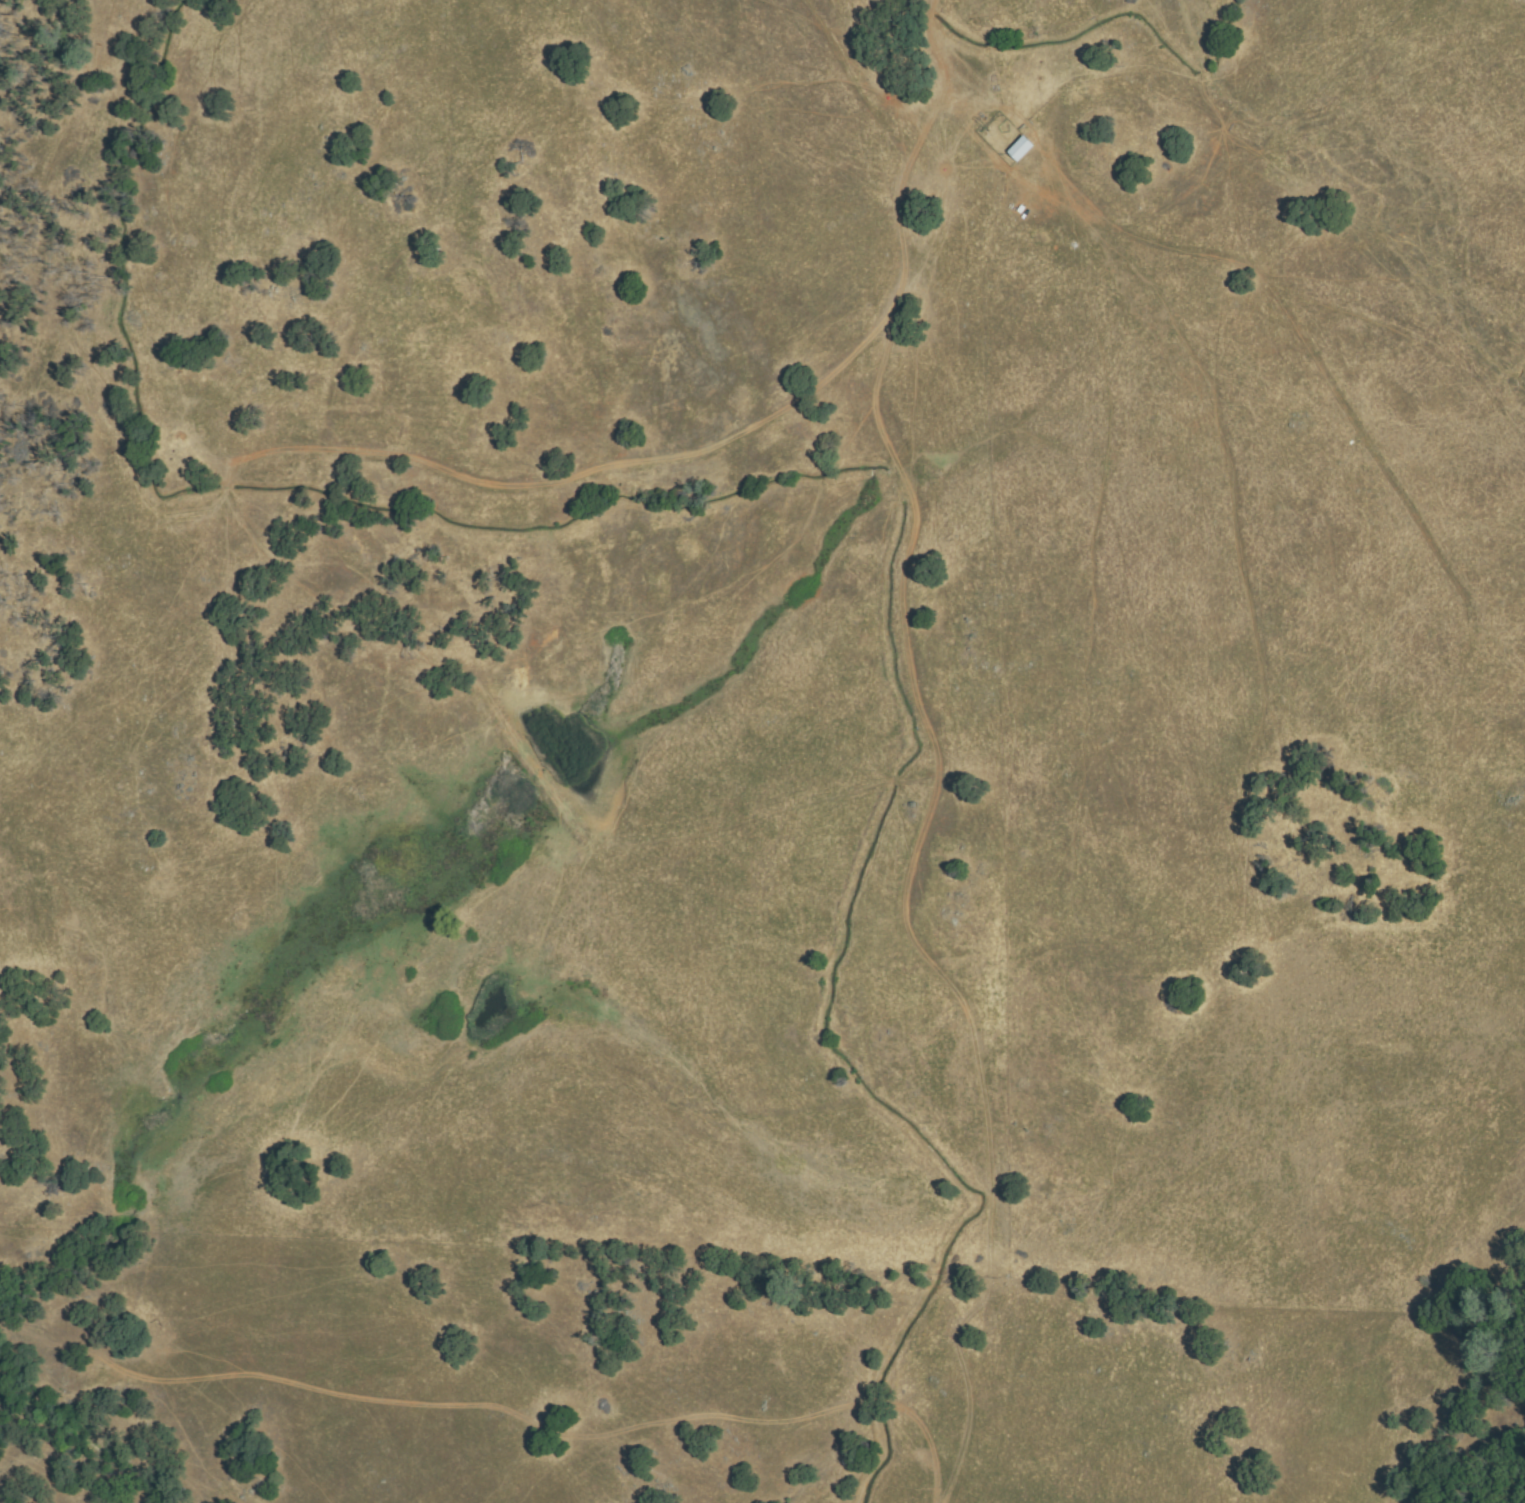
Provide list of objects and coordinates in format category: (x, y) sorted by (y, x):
building: (1022, 148)
road: (907, 153)

